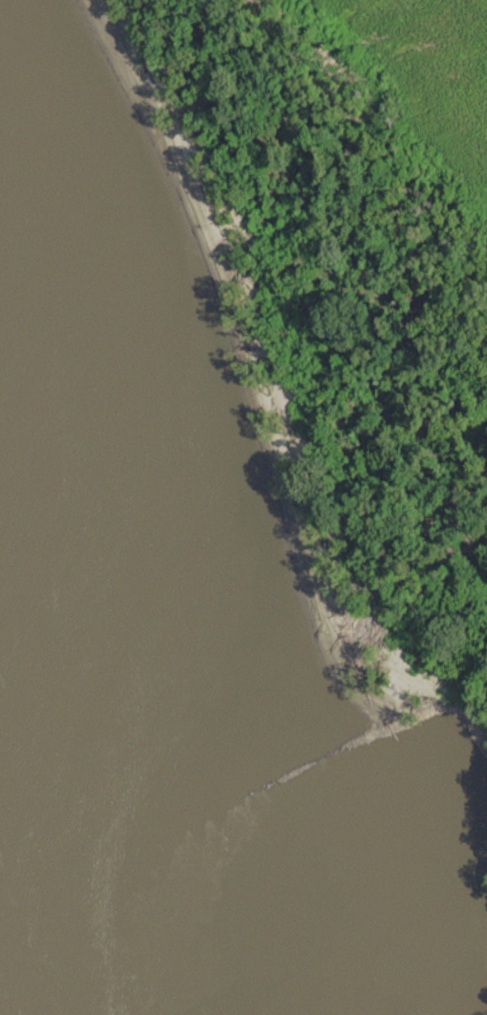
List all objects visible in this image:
crop: (432, 79)

